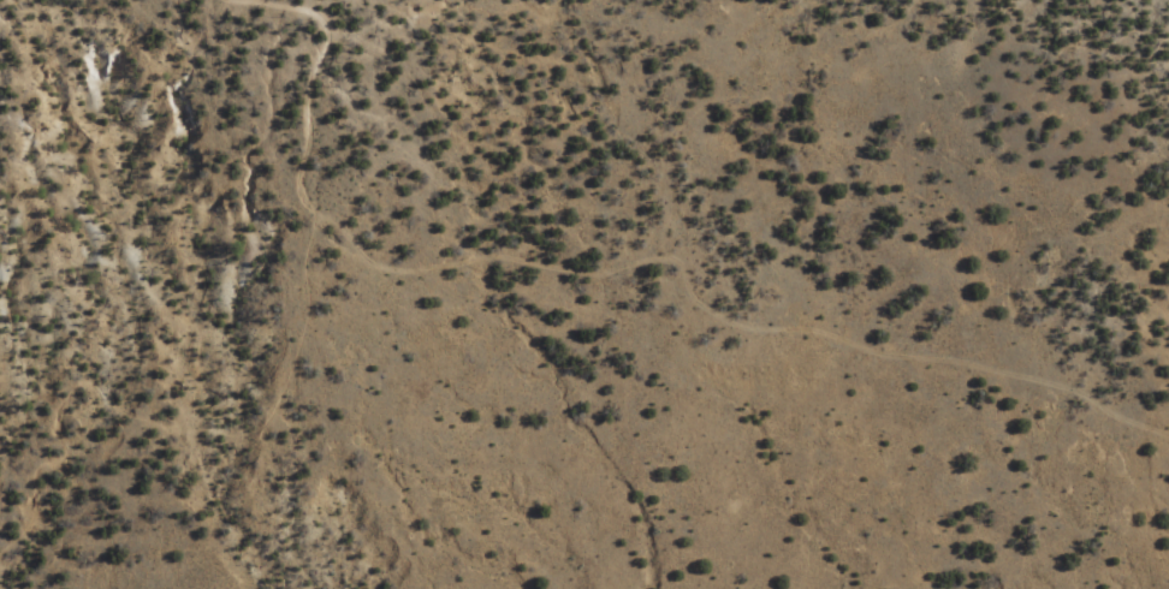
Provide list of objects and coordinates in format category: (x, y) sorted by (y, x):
road: (618, 273)
road: (156, 417)

